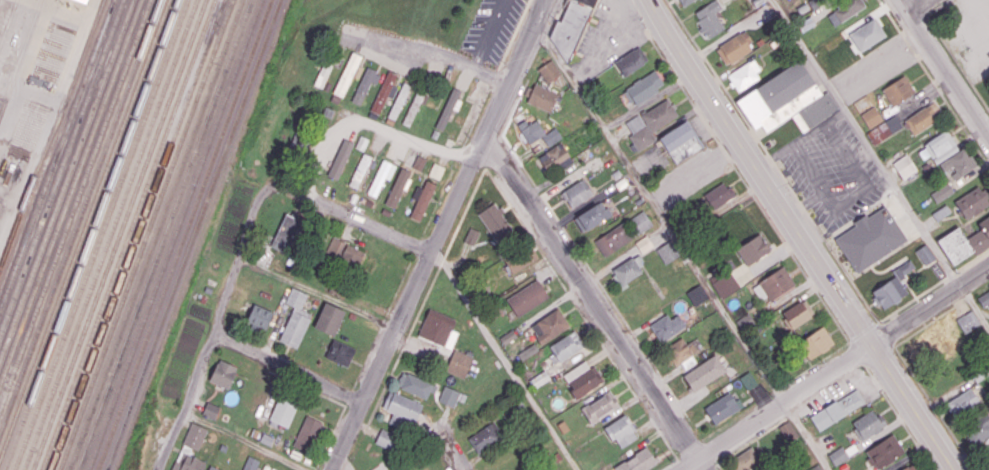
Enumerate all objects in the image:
building: (87, 0)
building: (79, 2)
building: (584, 2)
building: (683, 2)
road: (909, 4)
road: (921, 6)
road: (935, 6)
building: (848, 8)
railway: (221, 9)
road: (889, 15)
building: (708, 18)
railway: (8, 22)
parking lot: (492, 28)
road: (488, 34)
building: (867, 34)
parking lot: (971, 36)
road: (511, 39)
road: (909, 45)
building: (734, 47)
road: (436, 53)
railway: (20, 55)
building: (631, 60)
road: (957, 61)
road: (707, 62)
road: (943, 68)
building: (324, 71)
building: (549, 71)
building: (347, 74)
building: (743, 75)
building: (365, 84)
building: (644, 87)
building: (898, 90)
building: (384, 92)
building: (541, 97)
building: (785, 98)
building: (398, 100)
building: (414, 106)
building: (449, 107)
road: (988, 107)
road: (954, 112)
building: (871, 117)
building: (919, 120)
road: (370, 123)
building: (650, 123)
building: (884, 129)
road: (754, 132)
railway: (53, 133)
building: (539, 134)
building: (361, 142)
building: (680, 142)
road: (865, 143)
building: (299, 144)
road: (763, 146)
building: (938, 147)
railway: (56, 153)
road: (771, 157)
building: (555, 158)
building: (340, 159)
building: (419, 162)
building: (958, 163)
building: (904, 166)
railway: (61, 167)
building: (436, 170)
building: (360, 171)
building: (380, 178)
railway: (66, 180)
road: (786, 180)
building: (398, 187)
railway: (70, 192)
building: (942, 192)
building: (577, 193)
building: (717, 195)
building: (421, 200)
building: (972, 202)
railway: (75, 204)
road: (802, 205)
road: (659, 212)
building: (940, 212)
road: (345, 214)
building: (592, 216)
railway: (79, 217)
building: (495, 221)
building: (640, 222)
railway: (83, 228)
building: (286, 233)
railway: (137, 234)
railway: (156, 234)
railway: (193, 234)
railway: (91, 235)
railway: (101, 235)
railway: (109, 235)
railway: (119, 235)
railway: (127, 235)
railway: (145, 235)
railway: (164, 235)
railway: (175, 235)
railway: (185, 235)
road: (436, 235)
road: (801, 235)
building: (471, 236)
building: (870, 238)
building: (613, 239)
building: (964, 241)
building: (334, 246)
building: (753, 249)
building: (668, 251)
building: (925, 254)
building: (352, 255)
building: (521, 259)
road: (972, 261)
road: (236, 263)
road: (843, 266)
building: (628, 270)
road: (952, 274)
building: (774, 283)
building: (725, 284)
building: (892, 287)
road: (981, 288)
road: (316, 292)
building: (697, 294)
building: (527, 297)
road: (968, 297)
road: (914, 299)
building: (984, 300)
road: (974, 305)
road: (594, 306)
building: (797, 312)
building: (258, 316)
building: (295, 319)
building: (329, 319)
building: (968, 321)
road: (929, 322)
building: (549, 325)
building: (666, 327)
road: (864, 331)
road: (887, 333)
building: (445, 340)
building: (814, 342)
building: (565, 346)
building: (927, 346)
road: (856, 352)
building: (340, 353)
building: (681, 353)
road: (879, 354)
road: (836, 366)
road: (287, 367)
building: (704, 372)
building: (223, 373)
building: (981, 373)
building: (582, 378)
building: (539, 379)
building: (416, 385)
building: (451, 396)
road: (187, 402)
road: (535, 402)
building: (962, 403)
building: (599, 406)
building: (723, 407)
building: (402, 409)
building: (835, 409)
building: (210, 410)
building: (282, 412)
building: (866, 423)
building: (977, 428)
building: (621, 431)
building: (787, 431)
building: (307, 433)
building: (194, 436)
road: (807, 436)
building: (485, 437)
road: (247, 439)
building: (387, 439)
road: (451, 450)
building: (882, 452)
building: (838, 455)
building: (747, 459)
road: (345, 461)
building: (637, 461)
building: (188, 462)
building: (250, 463)
building: (815, 467)
building: (212, 468)
building: (910, 468)

